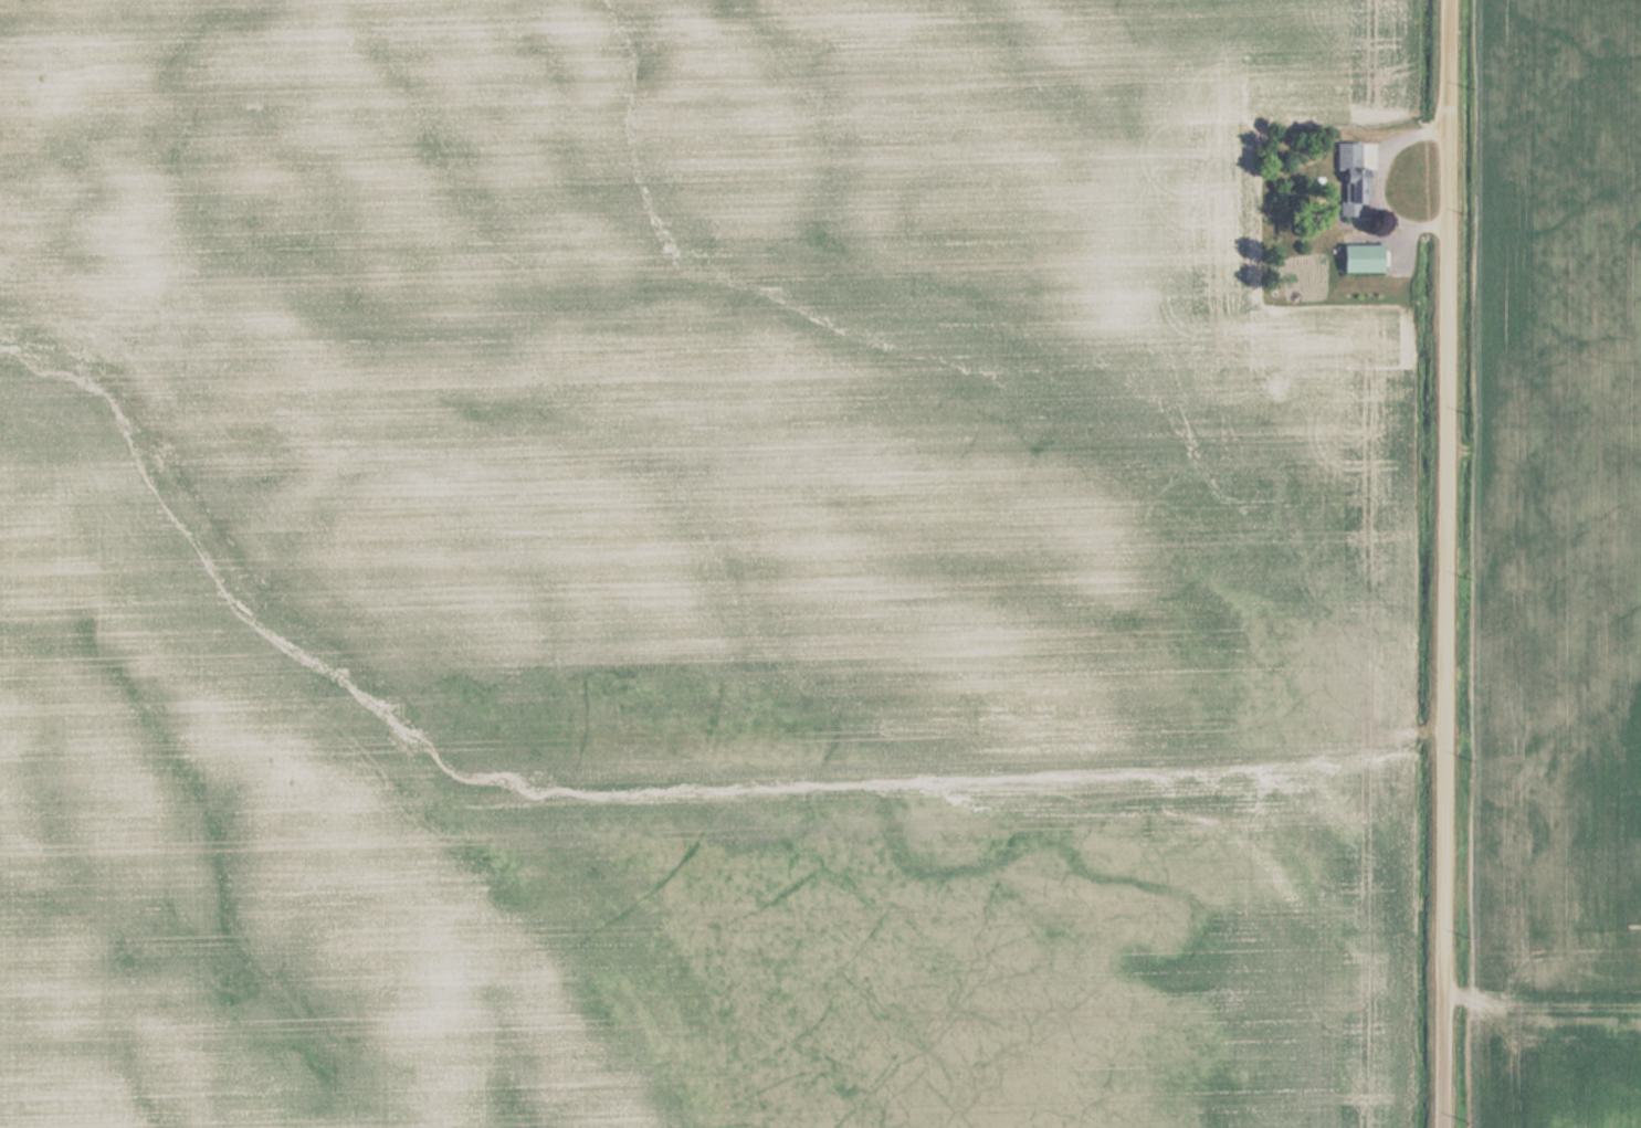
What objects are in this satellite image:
building: (1349, 179)
building: (1358, 257)
road: (1443, 563)

